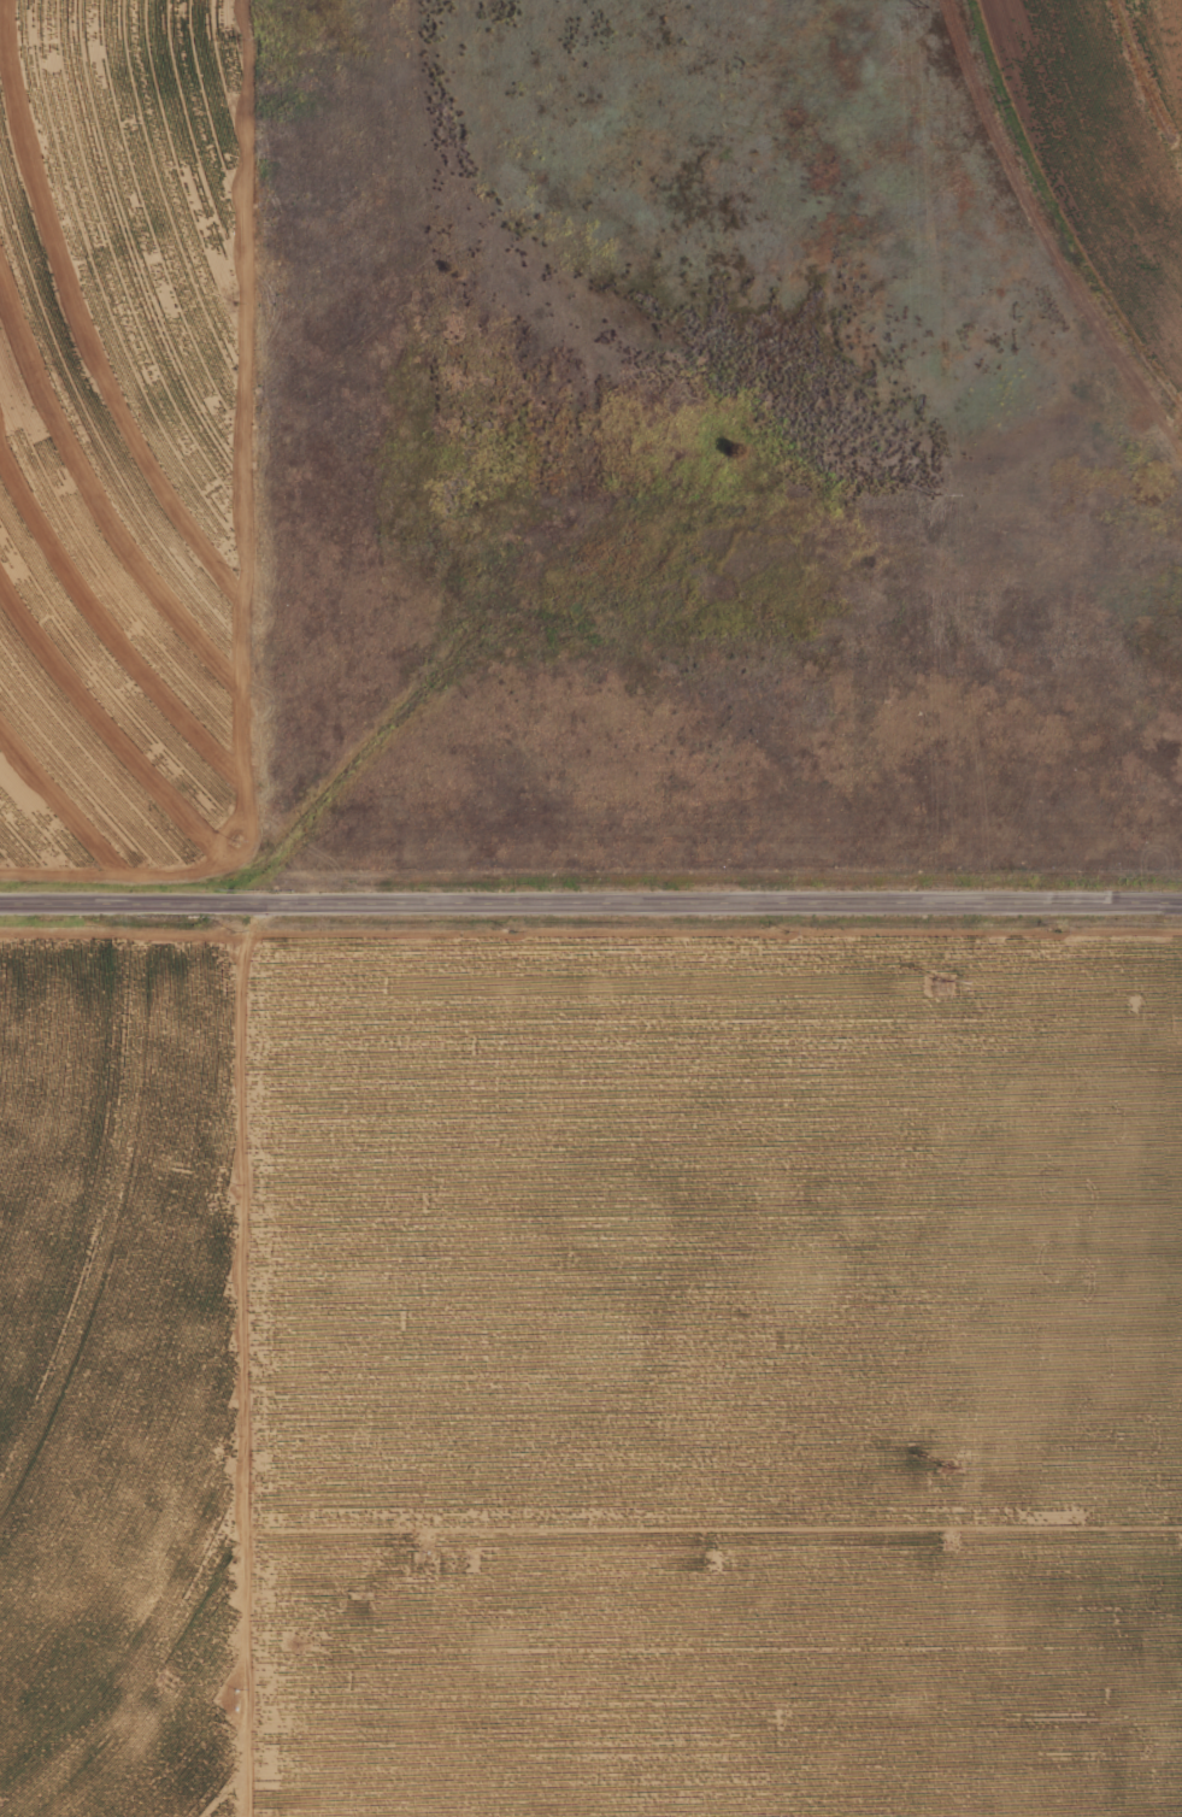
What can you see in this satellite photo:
power tower: (928, 6)
power tower: (936, 493)
road: (590, 898)
power tower: (946, 981)
power tower: (955, 1470)

